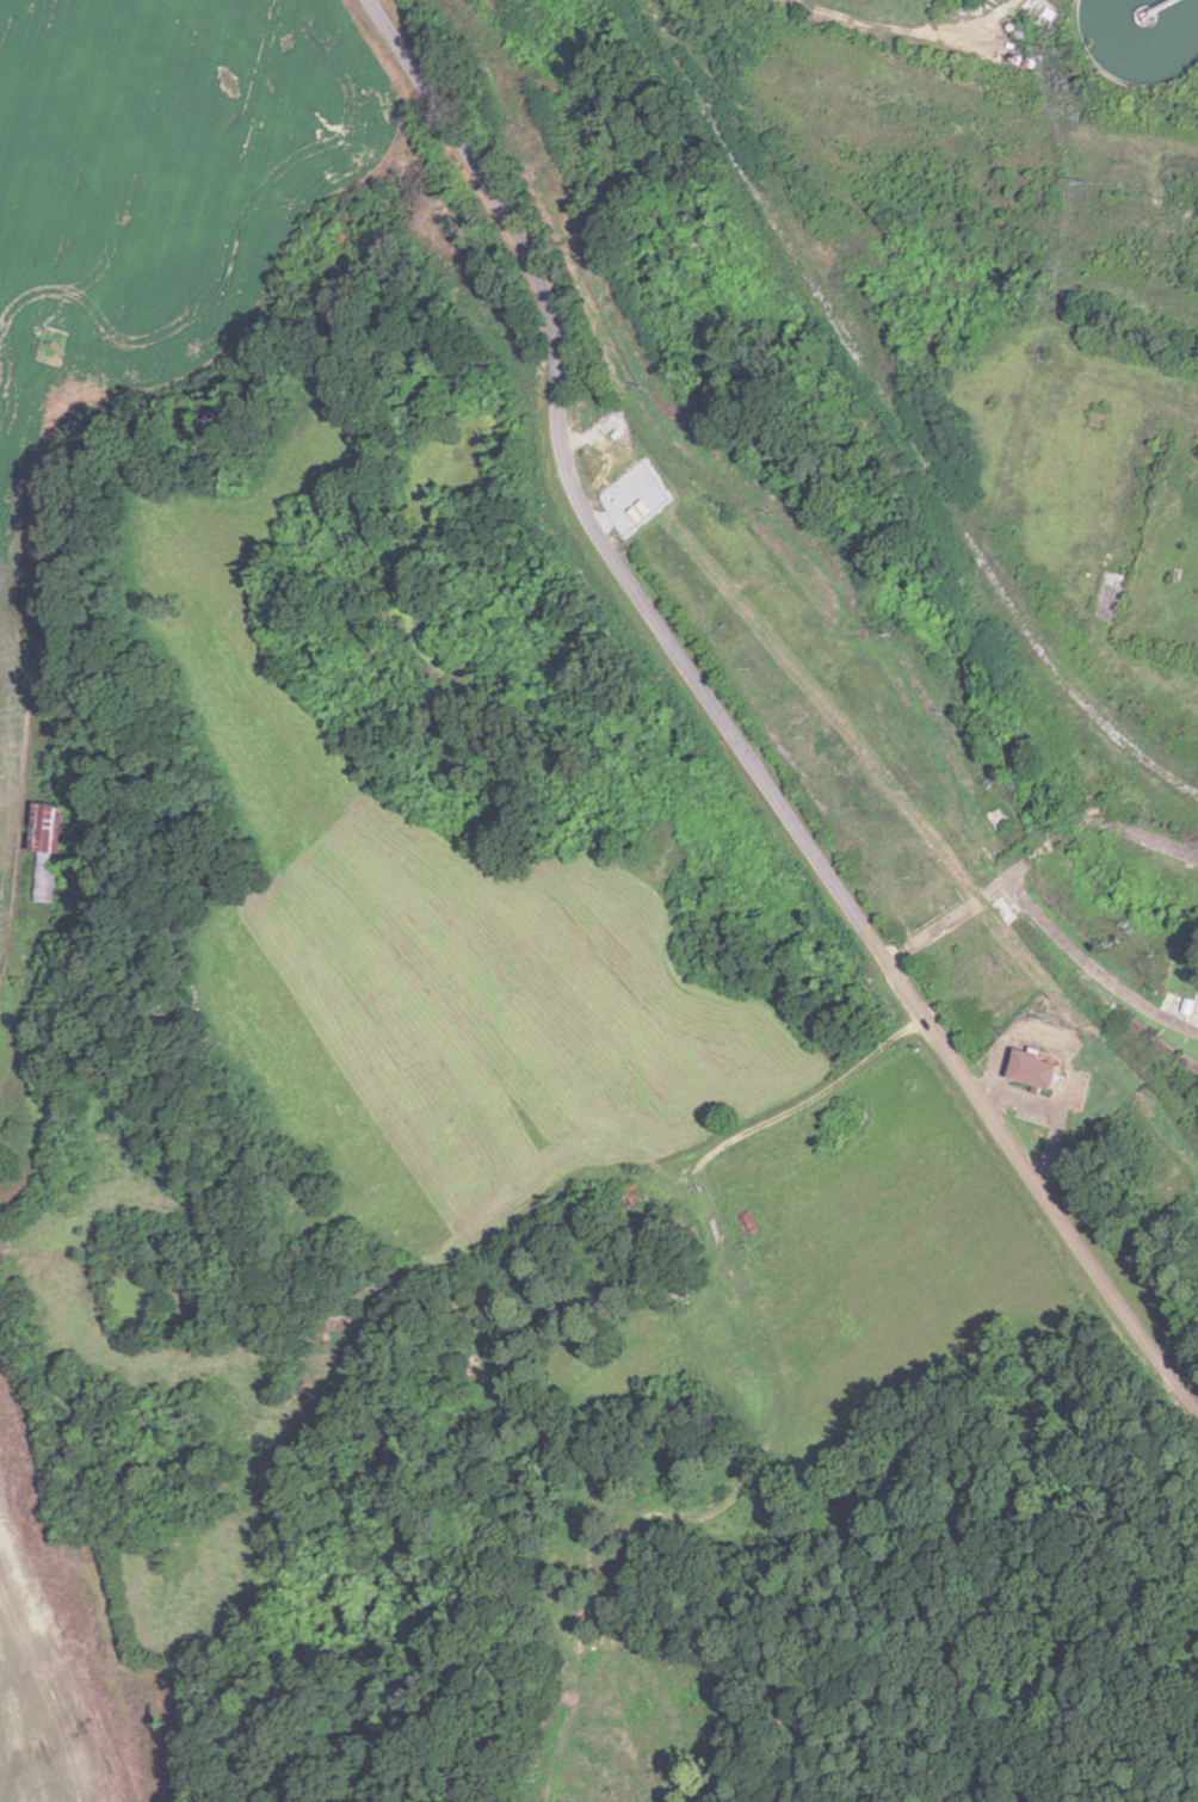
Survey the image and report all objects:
building: (1045, 13)
building: (1150, 39)
railway: (895, 419)
building: (1156, 449)
road: (729, 730)
building: (48, 853)
building: (1007, 911)
road: (1103, 959)
building: (1036, 1069)
building: (848, 1113)
building: (630, 1197)
building: (747, 1222)
road: (965, 1528)

